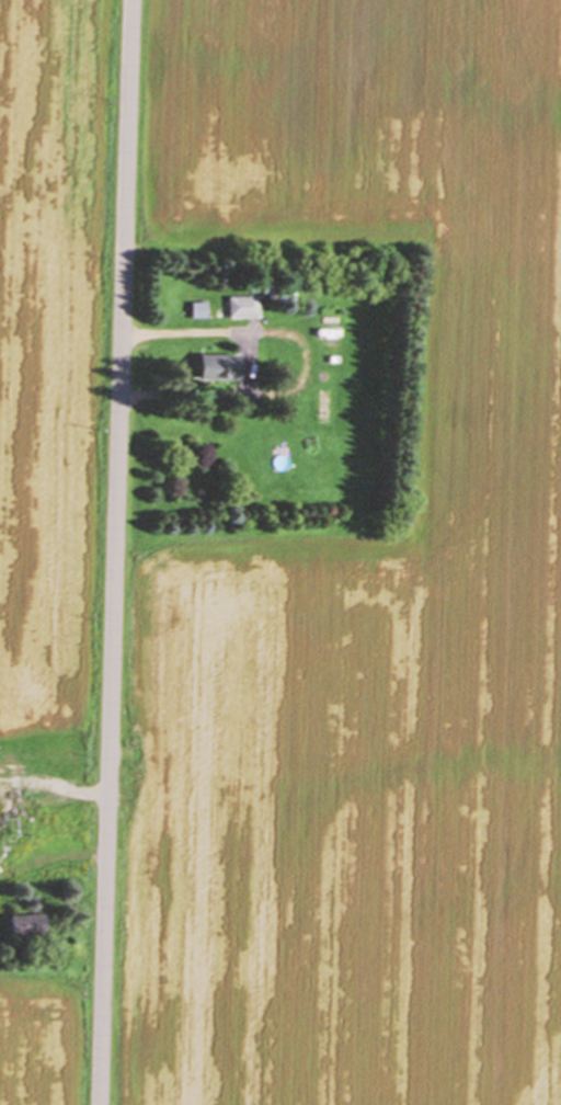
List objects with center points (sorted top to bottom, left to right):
building: (242, 307)
road: (181, 334)
building: (221, 367)
road: (116, 552)
building: (36, 925)

